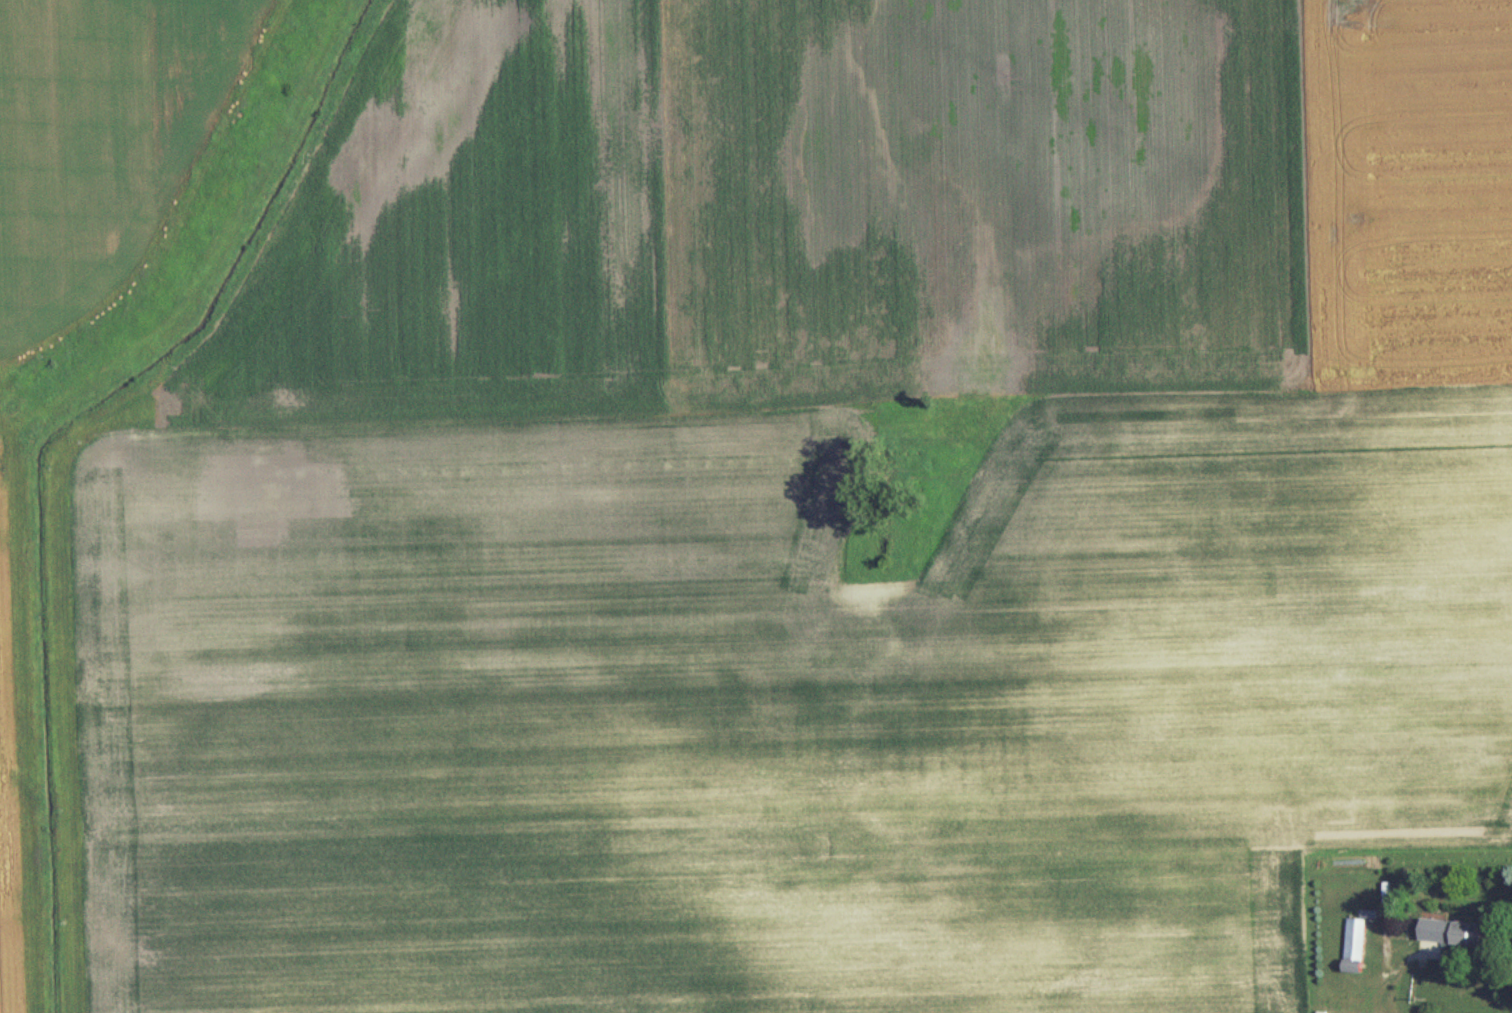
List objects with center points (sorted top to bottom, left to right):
building: (1446, 930)
building: (1352, 938)

